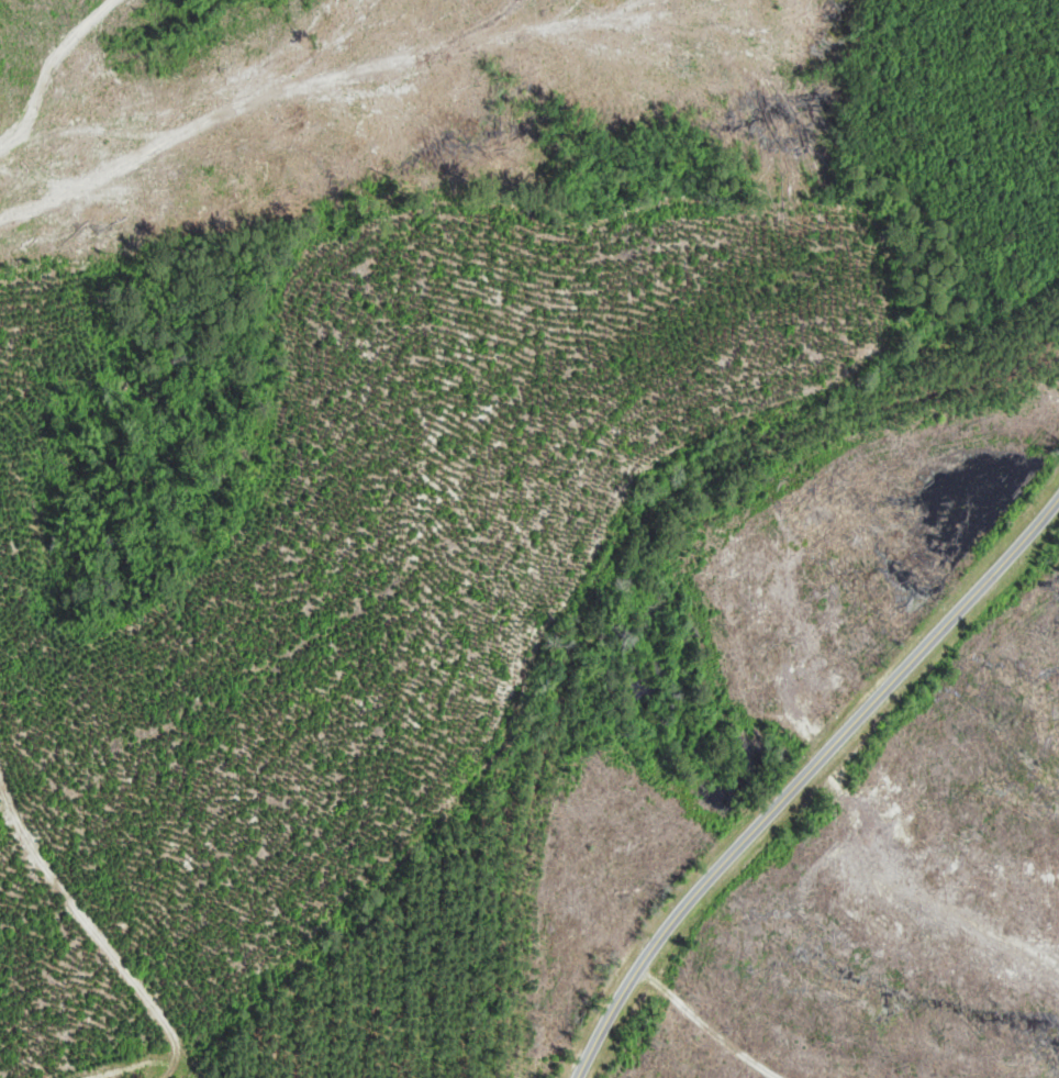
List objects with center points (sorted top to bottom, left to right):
road: (803, 776)

